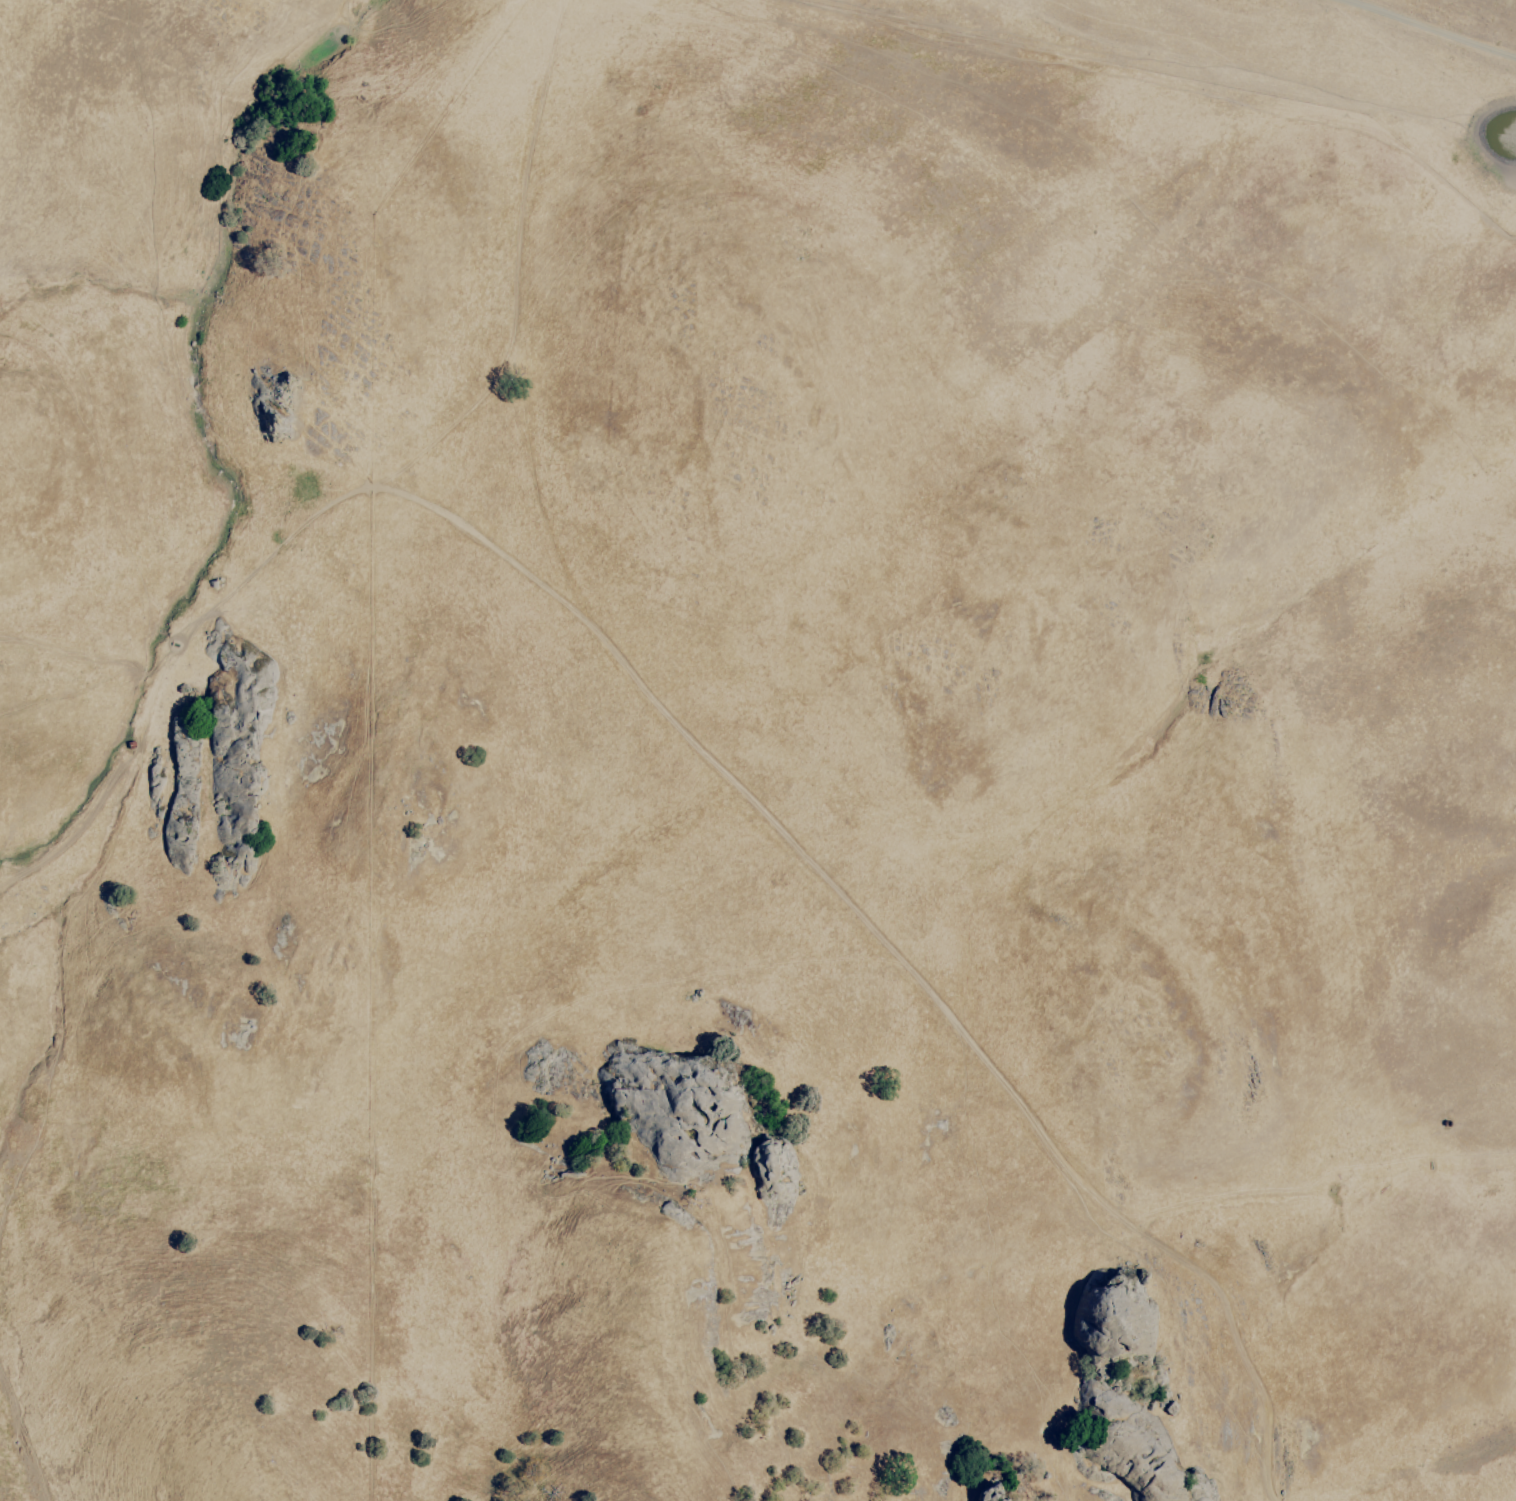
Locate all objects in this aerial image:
road: (1426, 29)

